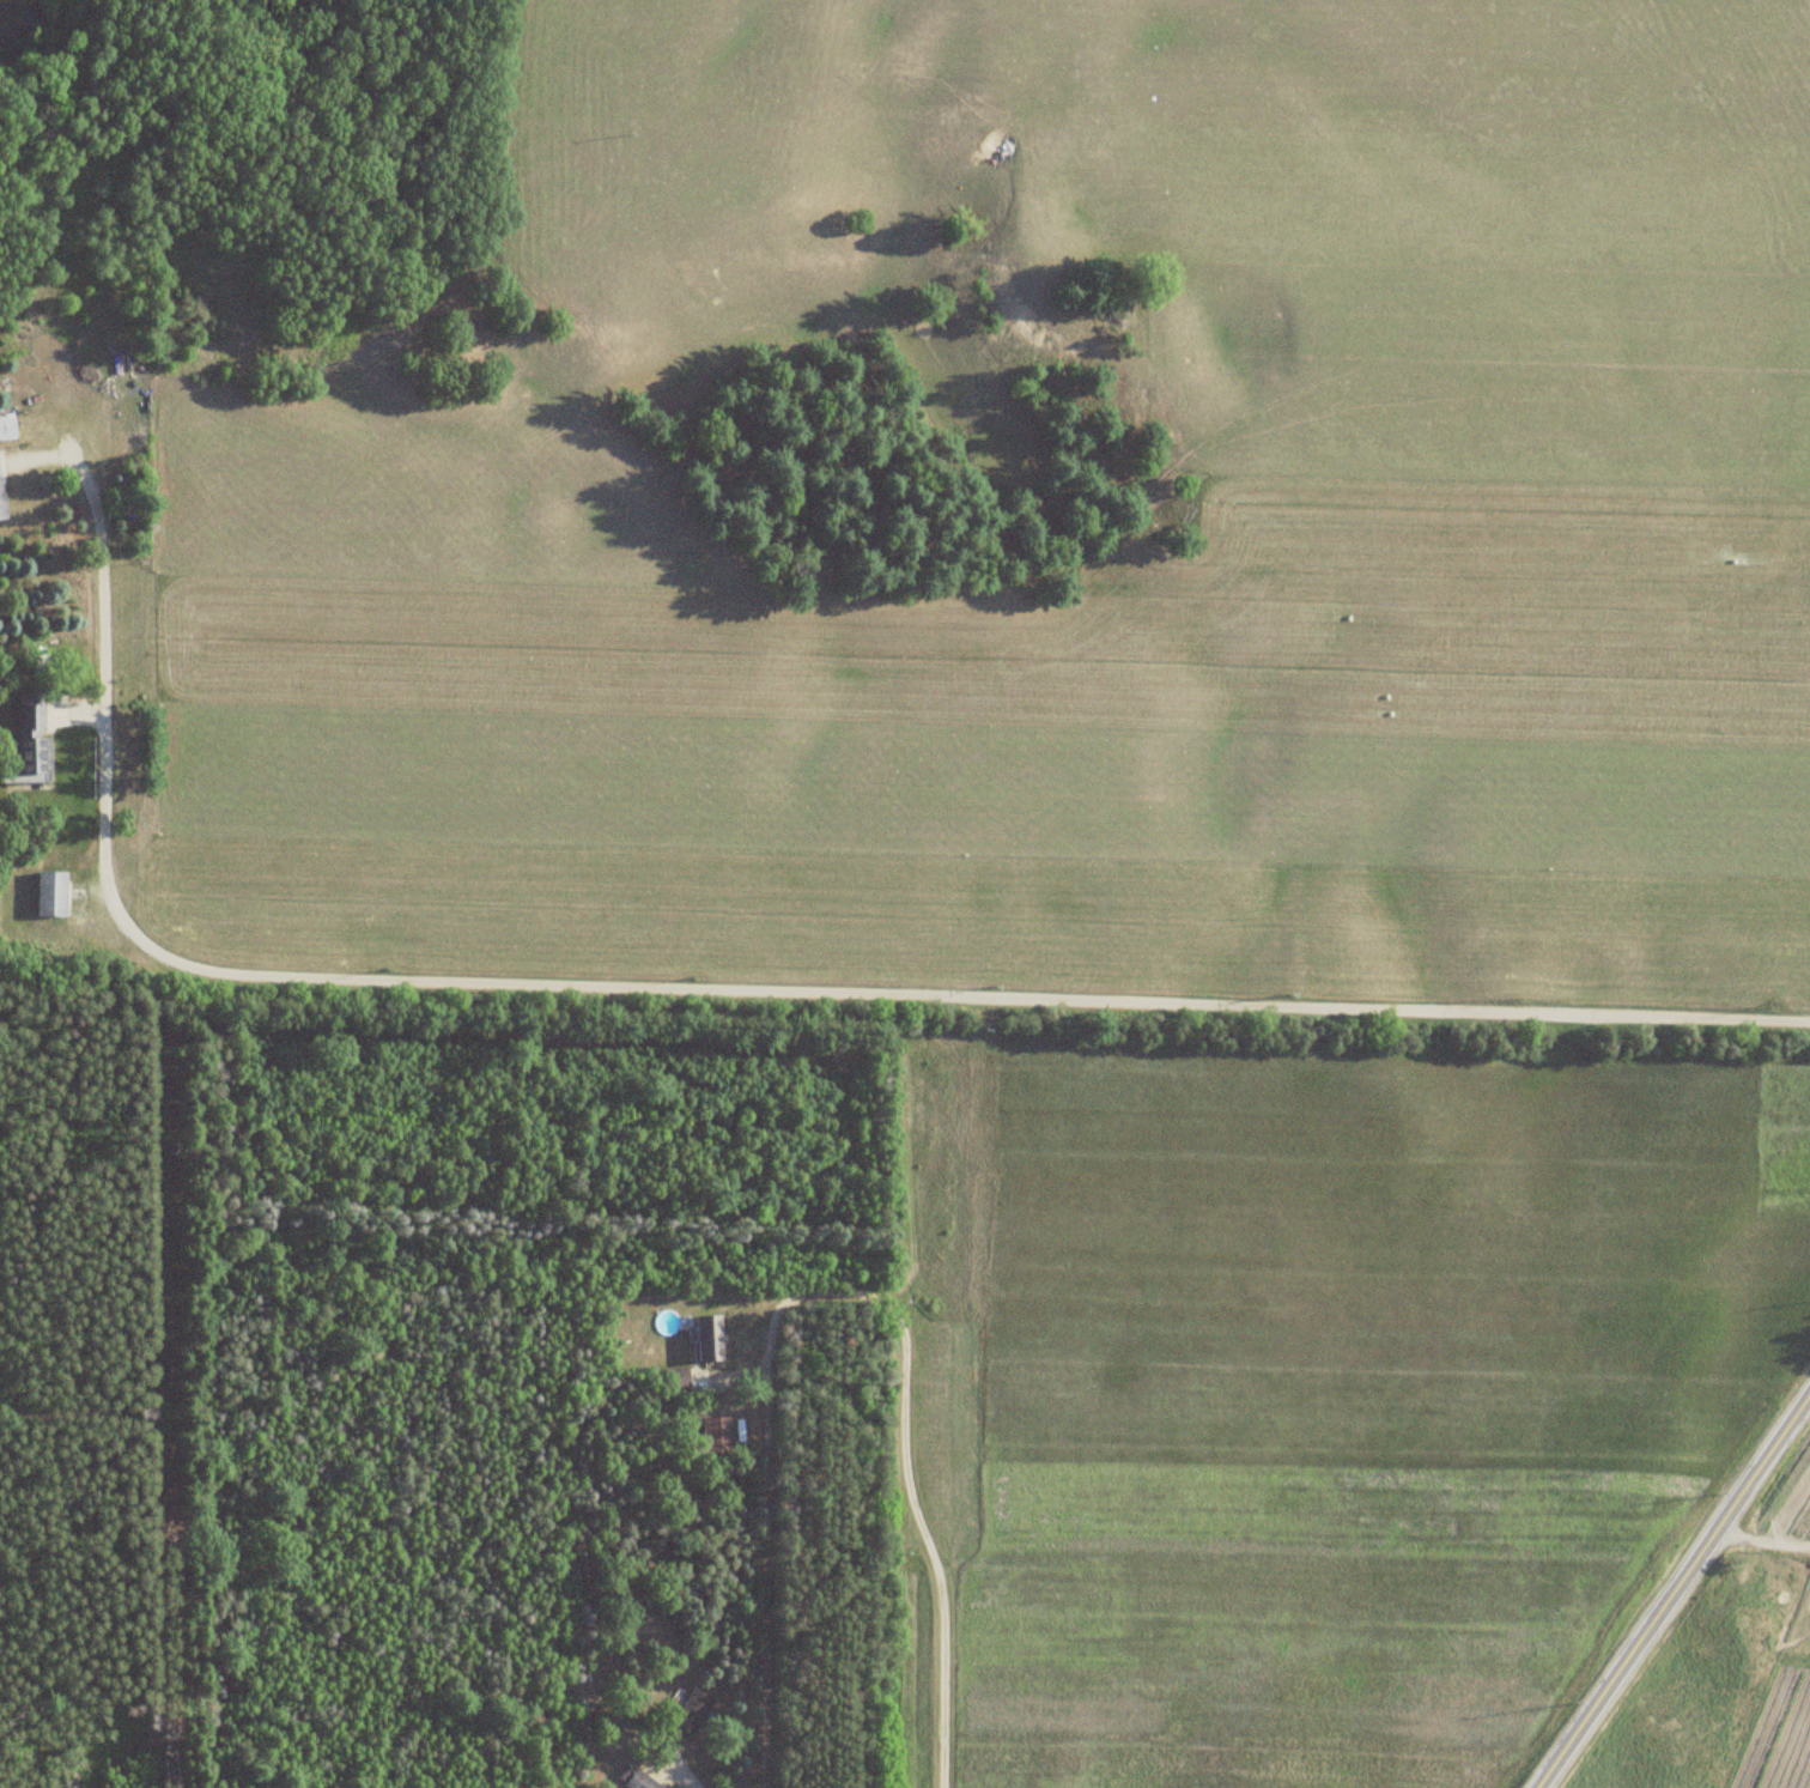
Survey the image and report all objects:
building: (6, 428)
building: (0, 503)
building: (25, 745)
building: (48, 893)
road: (699, 994)
building: (706, 1338)
building: (713, 1436)
road: (763, 1463)
road: (929, 1565)
road: (1666, 1582)
building: (692, 1711)
road: (682, 1770)
building: (638, 1781)

